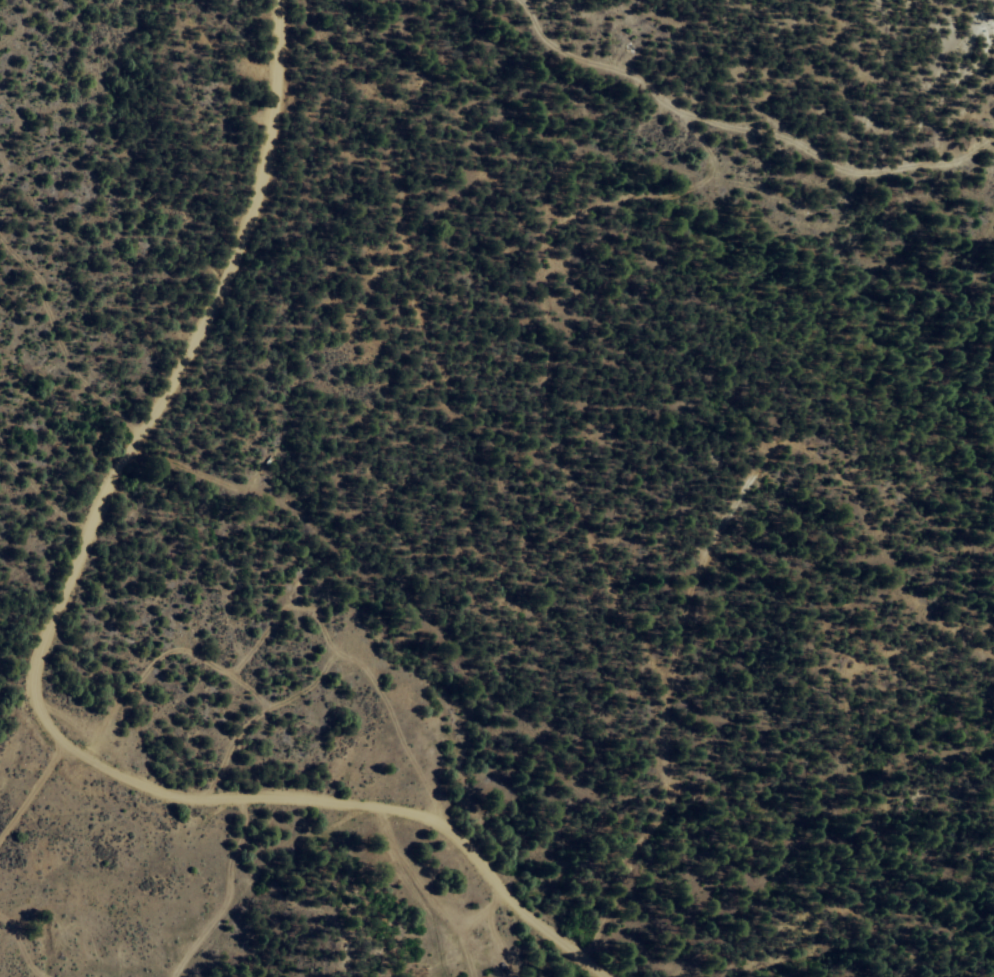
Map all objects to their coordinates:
road: (734, 118)
road: (566, 470)
road: (34, 658)
road: (662, 784)
road: (32, 791)

